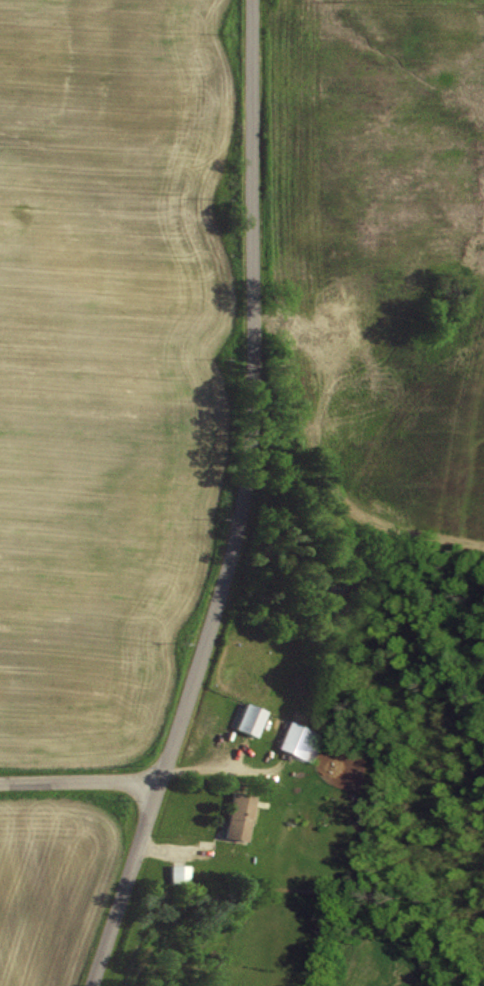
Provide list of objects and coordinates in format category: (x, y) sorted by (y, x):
crop: (105, 357)
road: (240, 504)
building: (249, 718)
building: (299, 739)
road: (79, 781)
building: (239, 814)
building: (178, 872)

